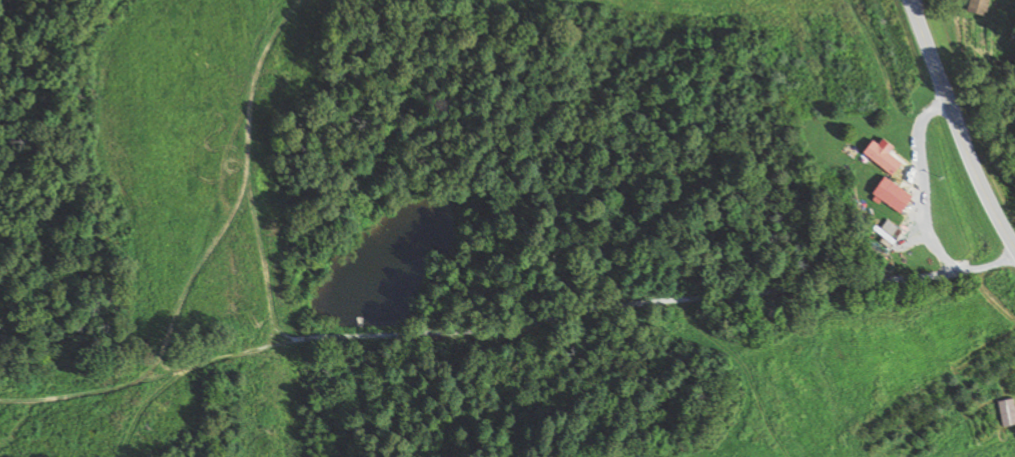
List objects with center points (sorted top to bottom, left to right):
building: (982, 6)
road: (957, 126)
building: (886, 158)
building: (897, 196)
road: (926, 304)
road: (886, 338)
road: (621, 353)
building: (1008, 412)

